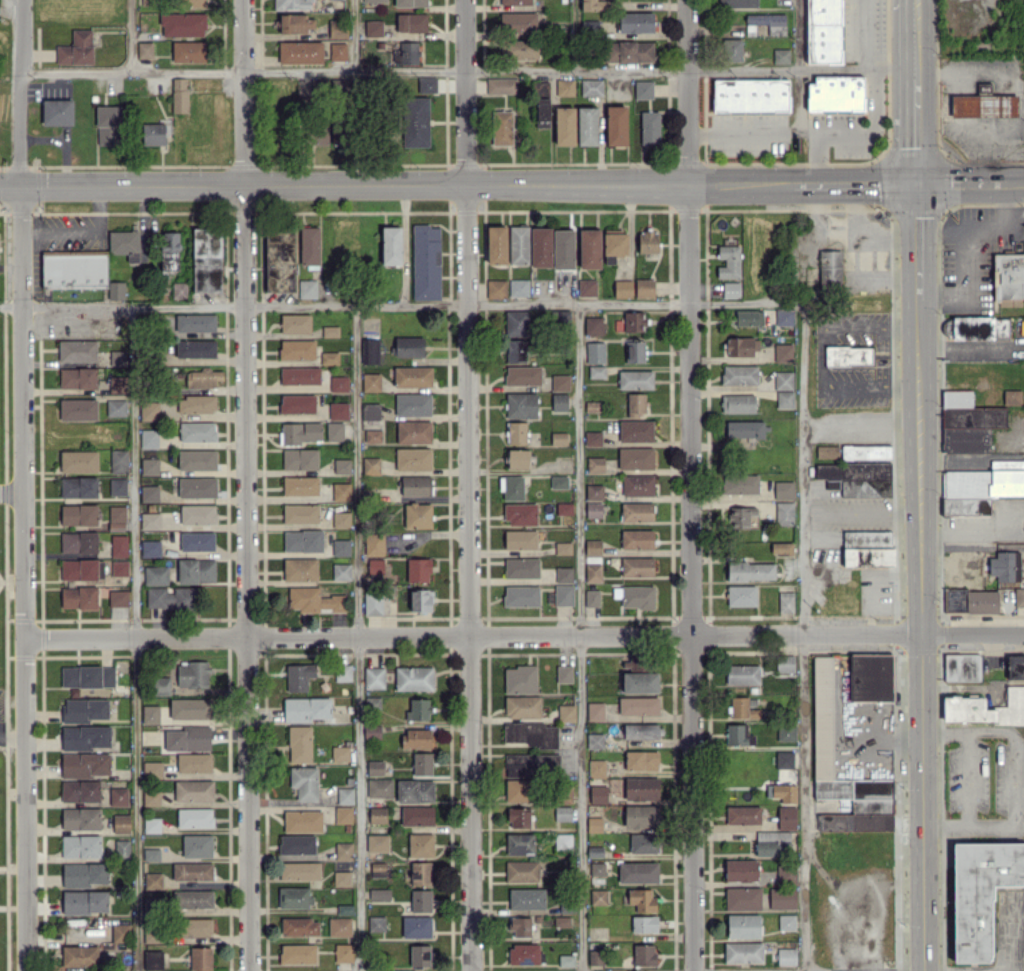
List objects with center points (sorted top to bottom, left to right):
building: (374, 1)
building: (515, 2)
building: (193, 3)
building: (410, 3)
building: (737, 3)
building: (293, 4)
building: (594, 5)
road: (22, 21)
building: (411, 22)
building: (518, 22)
building: (635, 22)
building: (768, 22)
building: (295, 23)
building: (182, 24)
building: (373, 28)
building: (337, 29)
building: (824, 31)
road: (860, 33)
road: (575, 34)
road: (795, 34)
road: (353, 35)
road: (129, 36)
road: (916, 38)
building: (76, 48)
building: (525, 49)
building: (144, 50)
building: (734, 50)
building: (188, 51)
building: (337, 51)
building: (629, 51)
building: (300, 52)
building: (406, 53)
building: (781, 55)
road: (468, 69)
building: (426, 85)
building: (502, 85)
road: (1019, 86)
building: (565, 87)
building: (591, 87)
building: (643, 89)
building: (835, 93)
building: (179, 94)
building: (750, 95)
building: (984, 105)
building: (57, 112)
building: (542, 112)
road: (19, 114)
building: (415, 121)
building: (109, 125)
building: (616, 125)
building: (564, 126)
building: (587, 126)
road: (353, 127)
building: (502, 127)
building: (649, 127)
road: (916, 129)
road: (734, 130)
building: (319, 131)
building: (337, 132)
building: (153, 134)
road: (852, 134)
road: (853, 181)
traffic signals: (916, 181)
road: (961, 181)
road: (1015, 181)
road: (405, 184)
road: (9, 187)
traffic signals: (19, 187)
road: (984, 228)
road: (80, 232)
road: (857, 237)
road: (916, 240)
building: (647, 242)
building: (124, 244)
building: (496, 244)
building: (518, 244)
building: (309, 245)
building: (391, 245)
building: (614, 245)
building: (540, 247)
building: (589, 248)
building: (563, 249)
building: (170, 251)
building: (206, 259)
building: (729, 261)
building: (426, 262)
road: (968, 265)
building: (830, 267)
building: (74, 271)
road: (885, 278)
building: (1009, 279)
building: (518, 287)
building: (587, 287)
building: (644, 287)
building: (307, 288)
building: (496, 288)
building: (623, 288)
building: (731, 289)
building: (115, 290)
building: (179, 290)
road: (411, 303)
road: (10, 306)
building: (748, 317)
building: (784, 317)
building: (634, 321)
building: (516, 322)
building: (195, 323)
building: (295, 323)
building: (593, 325)
building: (977, 327)
building: (330, 331)
building: (742, 345)
building: (408, 346)
building: (195, 348)
building: (296, 349)
road: (964, 349)
building: (77, 350)
building: (515, 350)
building: (369, 351)
building: (634, 351)
building: (595, 352)
building: (783, 352)
building: (848, 355)
building: (118, 358)
building: (329, 358)
road: (820, 359)
building: (597, 371)
building: (739, 374)
building: (299, 375)
building: (522, 375)
building: (412, 376)
building: (77, 377)
building: (203, 377)
building: (635, 379)
building: (783, 380)
building: (370, 382)
building: (560, 382)
building: (338, 383)
building: (117, 384)
building: (1012, 396)
building: (784, 399)
building: (559, 401)
building: (196, 403)
building: (297, 403)
building: (737, 403)
building: (412, 404)
building: (635, 404)
building: (520, 405)
building: (592, 406)
building: (115, 407)
building: (78, 409)
building: (150, 410)
building: (338, 410)
building: (370, 411)
building: (967, 422)
building: (745, 429)
building: (635, 430)
building: (197, 431)
building: (334, 431)
building: (300, 432)
building: (413, 432)
building: (516, 432)
building: (372, 435)
building: (148, 438)
building: (558, 438)
building: (592, 438)
building: (827, 451)
building: (866, 451)
building: (517, 458)
building: (635, 458)
building: (300, 459)
building: (413, 459)
building: (196, 460)
building: (78, 461)
building: (118, 461)
building: (595, 464)
building: (370, 465)
building: (149, 466)
building: (341, 466)
building: (856, 478)
building: (559, 482)
building: (739, 483)
road: (245, 485)
building: (300, 485)
building: (416, 485)
road: (468, 485)
building: (637, 485)
road: (690, 485)
building: (78, 487)
building: (117, 487)
building: (196, 487)
building: (511, 487)
building: (980, 487)
building: (783, 489)
road: (10, 491)
building: (341, 491)
building: (593, 491)
building: (149, 493)
building: (564, 508)
building: (593, 509)
road: (867, 511)
building: (636, 512)
building: (300, 513)
building: (784, 513)
building: (78, 514)
building: (197, 514)
building: (520, 514)
building: (417, 515)
building: (740, 516)
building: (116, 517)
building: (341, 519)
building: (150, 521)
road: (955, 530)
building: (520, 539)
building: (636, 539)
building: (196, 541)
building: (302, 541)
building: (78, 542)
building: (373, 544)
building: (118, 545)
building: (592, 546)
building: (340, 547)
building: (562, 547)
road: (971, 547)
building: (150, 548)
building: (781, 548)
building: (867, 548)
building: (637, 566)
building: (1005, 566)
building: (521, 567)
building: (119, 568)
building: (82, 569)
building: (299, 569)
building: (379, 569)
building: (418, 570)
building: (750, 570)
building: (196, 571)
building: (341, 571)
building: (592, 572)
building: (563, 574)
building: (155, 575)
road: (21, 579)
building: (520, 595)
building: (563, 595)
building: (741, 595)
building: (1018, 596)
building: (78, 597)
building: (118, 597)
building: (170, 597)
building: (592, 597)
building: (637, 597)
building: (313, 600)
building: (420, 601)
building: (785, 601)
building: (971, 601)
building: (373, 603)
road: (919, 634)
road: (522, 636)
road: (581, 636)
road: (803, 636)
road: (359, 637)
road: (136, 638)
building: (784, 663)
building: (635, 664)
building: (962, 667)
building: (1015, 667)
building: (342, 672)
building: (563, 673)
building: (192, 674)
building: (742, 674)
building: (87, 676)
building: (298, 676)
building: (373, 677)
building: (870, 677)
building: (413, 678)
building: (520, 679)
building: (639, 682)
building: (161, 685)
building: (372, 702)
building: (522, 706)
building: (638, 706)
building: (190, 708)
building: (742, 708)
building: (984, 708)
building: (305, 709)
building: (418, 709)
building: (595, 711)
building: (567, 712)
building: (150, 714)
building: (822, 717)
building: (371, 731)
building: (640, 731)
building: (786, 732)
building: (530, 734)
road: (1011, 734)
road: (11, 735)
building: (738, 735)
building: (85, 737)
building: (416, 738)
building: (187, 739)
building: (594, 740)
building: (299, 744)
building: (340, 753)
building: (784, 759)
building: (641, 760)
building: (193, 763)
building: (422, 763)
building: (85, 764)
building: (374, 768)
building: (596, 768)
building: (152, 769)
road: (968, 777)
building: (304, 782)
building: (379, 787)
building: (641, 788)
building: (193, 790)
building: (518, 790)
building: (80, 791)
building: (414, 791)
building: (782, 792)
building: (566, 794)
building: (597, 794)
building: (344, 795)
building: (118, 796)
building: (150, 797)
building: (562, 813)
building: (343, 814)
building: (377, 814)
building: (743, 814)
building: (417, 815)
building: (640, 816)
building: (194, 817)
building: (518, 817)
building: (786, 817)
building: (80, 818)
building: (302, 821)
building: (121, 823)
building: (594, 824)
road: (969, 824)
building: (151, 825)
building: (562, 840)
building: (377, 843)
building: (642, 843)
building: (773, 843)
building: (296, 844)
building: (519, 844)
building: (420, 845)
building: (80, 846)
building: (196, 846)
building: (118, 847)
building: (343, 850)
building: (151, 854)
building: (597, 868)
building: (377, 869)
building: (740, 870)
building: (192, 871)
building: (299, 871)
building: (521, 871)
building: (638, 872)
building: (420, 873)
building: (785, 873)
building: (83, 874)
building: (341, 878)
building: (379, 893)
building: (980, 893)
building: (598, 896)
building: (294, 897)
building: (781, 897)
building: (526, 898)
building: (742, 898)
building: (192, 899)
building: (420, 900)
building: (641, 900)
building: (84, 902)
building: (345, 909)
building: (786, 921)
building: (376, 923)
building: (644, 923)
building: (299, 926)
building: (339, 926)
building: (416, 926)
building: (520, 926)
building: (743, 926)
building: (195, 927)
road: (1011, 931)
building: (120, 932)
building: (343, 952)
building: (743, 952)
building: (297, 954)
building: (525, 954)
building: (644, 954)
building: (420, 955)
building: (79, 956)
building: (786, 956)
building: (595, 957)
building: (200, 958)
building: (152, 959)
building: (566, 960)
road: (937, 970)

